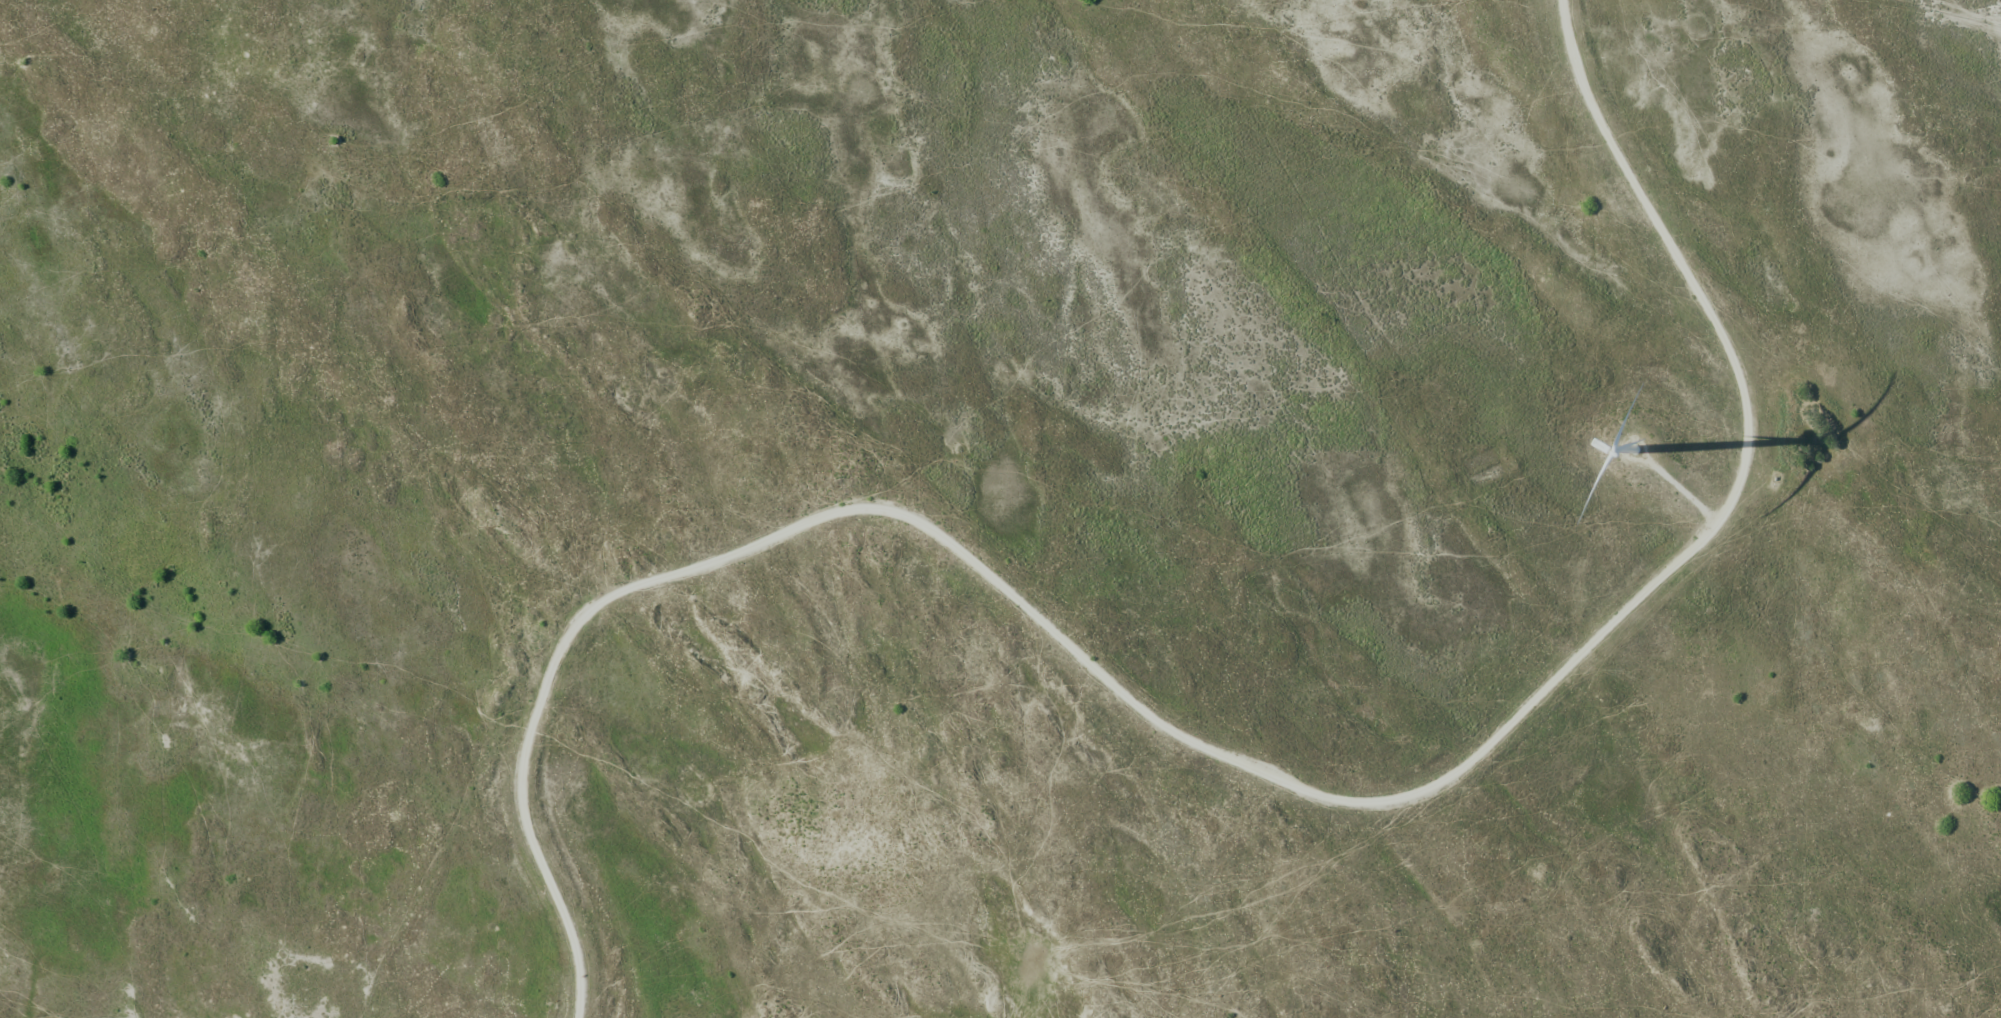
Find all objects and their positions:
wind turbine: (1642, 451)

